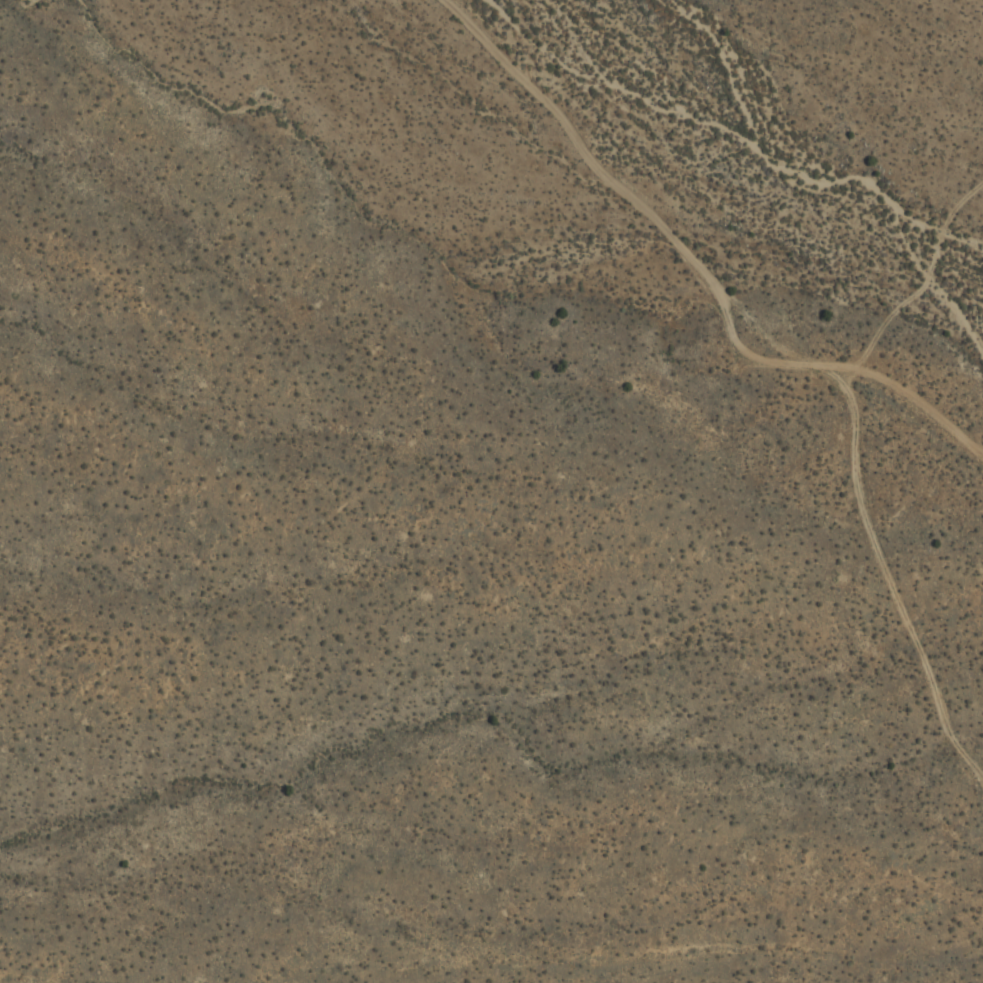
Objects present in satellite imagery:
road: (578, 144)

